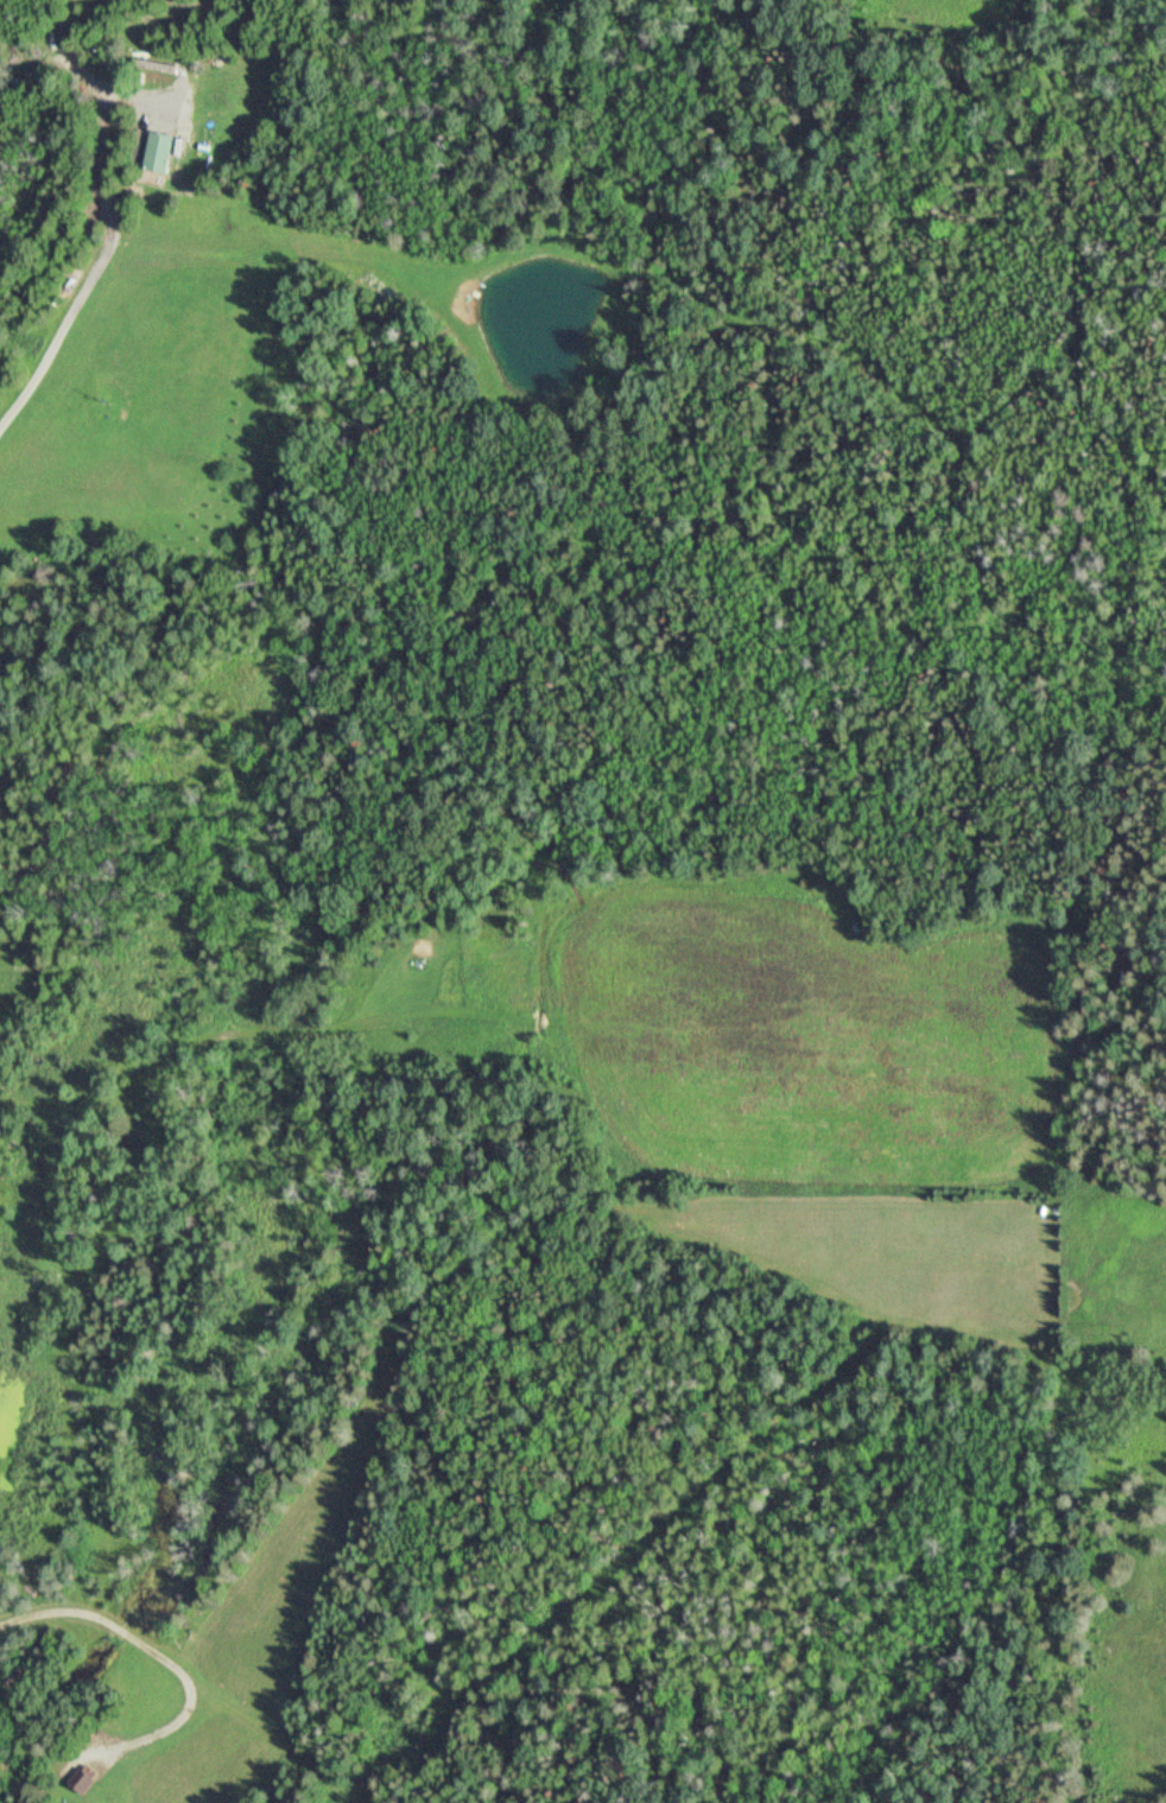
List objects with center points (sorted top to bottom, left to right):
road: (69, 309)
building: (423, 952)
road: (166, 1657)
building: (91, 1777)
building: (82, 1782)

